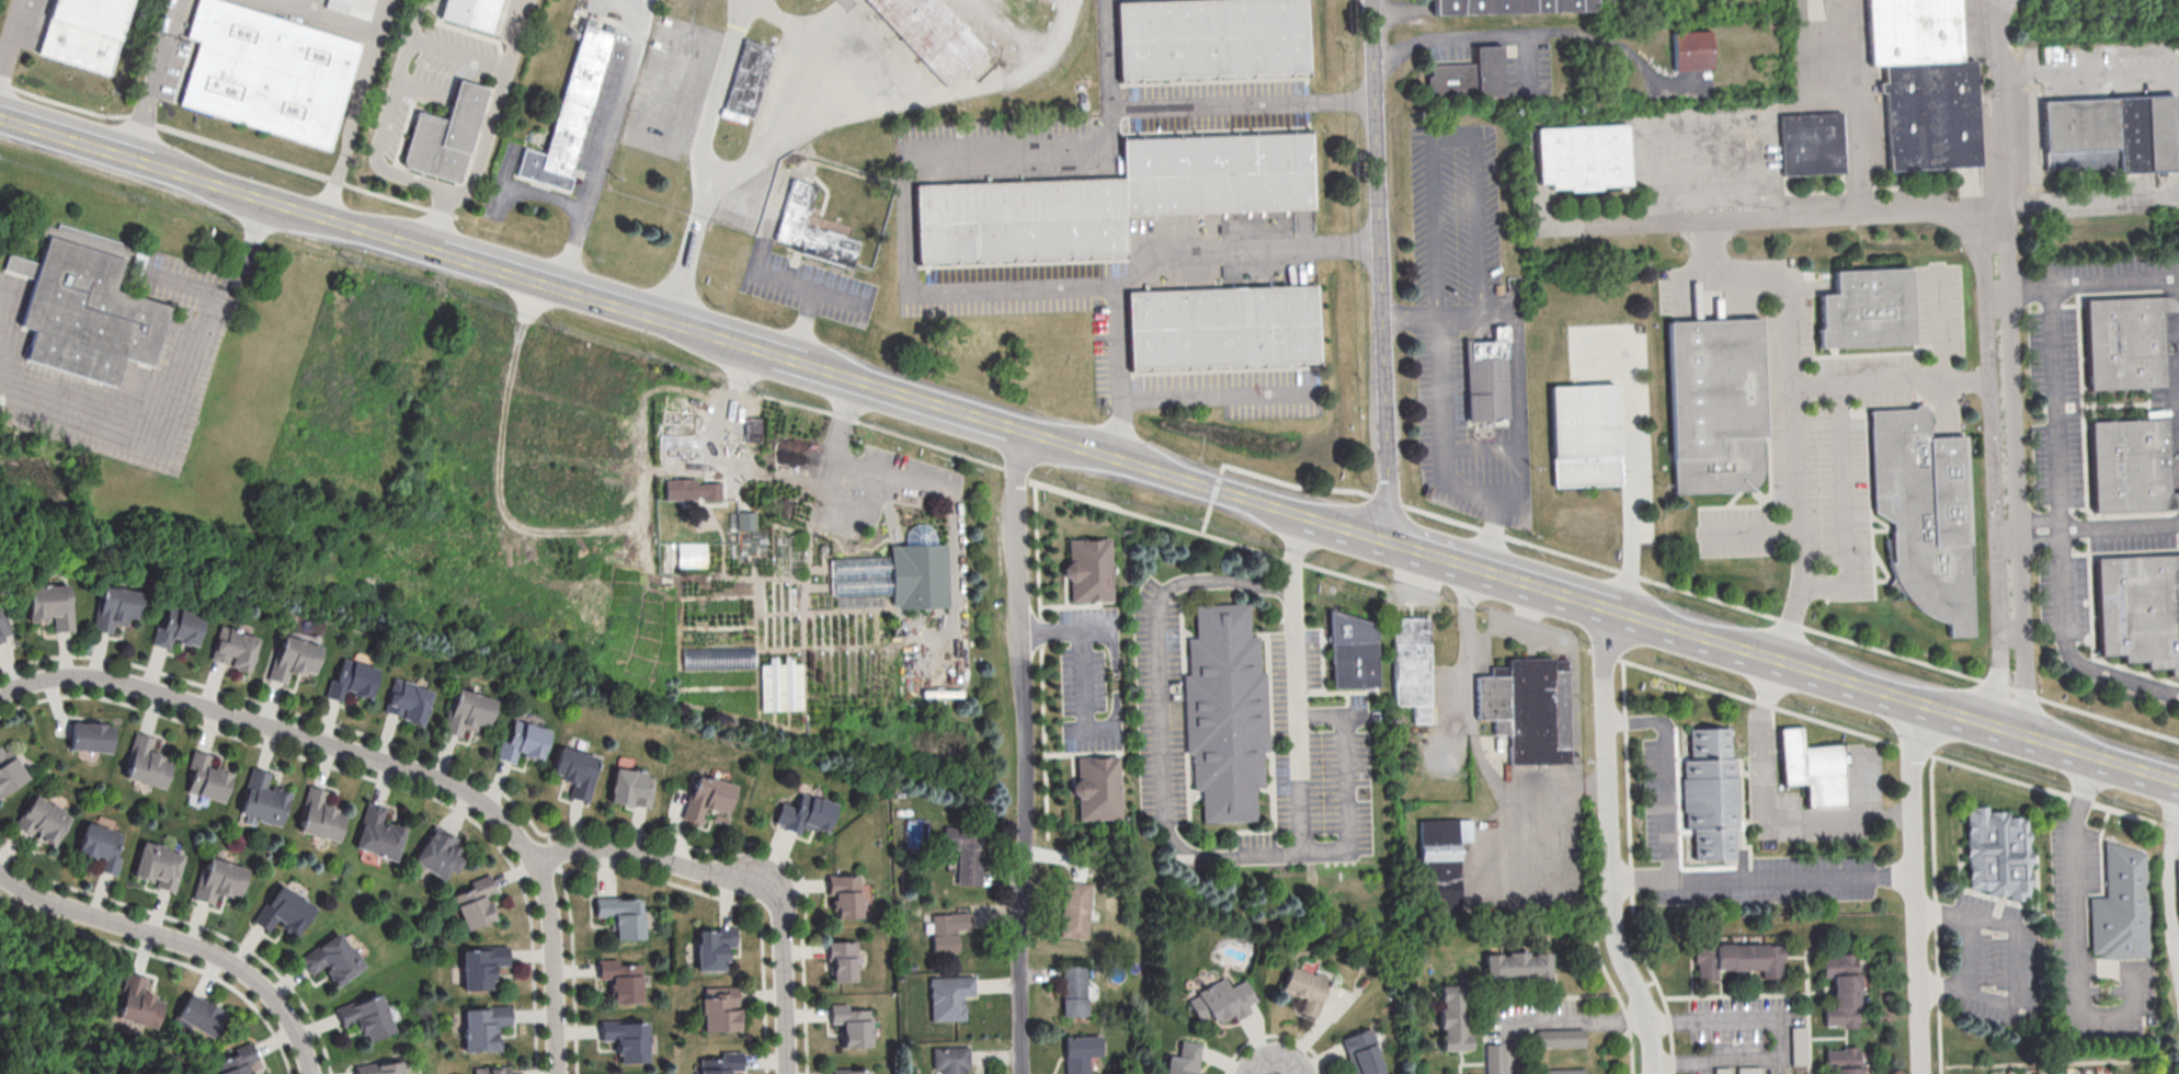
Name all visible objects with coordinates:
road: (309, 7)
building: (352, 7)
building: (1511, 10)
building: (470, 12)
road: (818, 14)
road: (321, 19)
road: (384, 19)
building: (84, 32)
building: (929, 33)
road: (12, 35)
road: (1548, 39)
building: (1214, 42)
building: (1692, 49)
road: (458, 53)
road: (729, 53)
road: (1530, 68)
building: (266, 71)
road: (2089, 71)
building: (748, 77)
road: (148, 78)
building: (1468, 78)
building: (1923, 83)
road: (420, 85)
road: (928, 100)
road: (495, 106)
road: (1187, 107)
road: (1859, 111)
building: (569, 113)
road: (386, 118)
road: (1560, 122)
road: (351, 128)
building: (445, 134)
building: (2109, 134)
road: (1454, 138)
road: (73, 142)
road: (601, 146)
building: (1813, 146)
road: (228, 148)
building: (1584, 159)
road: (1705, 169)
building: (1219, 175)
road: (232, 191)
road: (527, 192)
road: (2089, 205)
building: (1020, 220)
road: (435, 226)
building: (811, 232)
road: (379, 237)
road: (1379, 271)
road: (1765, 276)
road: (2114, 283)
road: (794, 284)
road: (187, 287)
road: (2022, 288)
road: (962, 290)
building: (84, 305)
road: (607, 307)
building: (1867, 309)
road: (202, 317)
building: (1222, 325)
road: (805, 328)
road: (1939, 330)
building: (2124, 342)
road: (785, 362)
road: (1998, 366)
road: (1118, 374)
building: (1486, 374)
road: (1515, 380)
road: (1896, 382)
road: (1210, 396)
road: (33, 399)
road: (906, 400)
building: (1714, 403)
road: (1441, 430)
building: (1584, 435)
road: (838, 450)
road: (1479, 452)
building: (2130, 467)
road: (1160, 475)
road: (1630, 477)
building: (691, 489)
road: (951, 504)
road: (1841, 510)
building: (1923, 513)
building: (746, 519)
road: (1449, 519)
road: (2034, 519)
road: (2120, 528)
road: (1346, 529)
road: (2060, 529)
road: (566, 530)
road: (1750, 530)
road: (2034, 542)
building: (692, 555)
building: (1089, 569)
building: (920, 574)
road: (1499, 575)
building: (860, 576)
building: (50, 605)
building: (115, 606)
building: (2137, 610)
building: (3, 627)
building: (178, 627)
road: (1068, 629)
road: (1520, 635)
building: (235, 648)
building: (1351, 652)
building: (718, 656)
building: (293, 659)
building: (1412, 666)
building: (352, 681)
road: (1297, 683)
building: (780, 684)
road: (1084, 695)
road: (1894, 697)
building: (407, 701)
building: (1528, 709)
building: (1225, 711)
building: (466, 712)
road: (307, 716)
road: (1472, 733)
building: (90, 736)
road: (1887, 741)
building: (522, 742)
road: (277, 749)
road: (1024, 754)
road: (386, 761)
building: (146, 762)
building: (1812, 768)
building: (9, 770)
building: (574, 772)
road: (1667, 772)
building: (206, 777)
building: (1097, 787)
building: (630, 788)
building: (1710, 791)
building: (262, 798)
building: (706, 798)
road: (1762, 811)
building: (803, 814)
building: (319, 816)
building: (42, 820)
road: (1168, 827)
road: (2176, 833)
building: (377, 834)
road: (1608, 844)
building: (101, 846)
building: (438, 853)
building: (967, 853)
building: (1997, 853)
building: (157, 865)
building: (1438, 866)
road: (1630, 870)
road: (1761, 879)
building: (218, 880)
road: (741, 882)
building: (2178, 887)
road: (1914, 888)
road: (2167, 889)
building: (844, 896)
building: (476, 902)
building: (2119, 906)
building: (283, 911)
building: (1074, 911)
building: (620, 916)
building: (948, 929)
road: (2077, 935)
road: (181, 944)
building: (714, 948)
road: (1961, 955)
building: (332, 959)
building: (1738, 959)
building: (841, 960)
building: (1517, 966)
building: (480, 967)
road: (2017, 967)
building: (621, 979)
building: (1305, 987)
building: (1841, 989)
building: (1073, 991)
building: (948, 997)
building: (136, 1001)
building: (1221, 1001)
building: (719, 1008)
building: (198, 1015)
building: (365, 1015)
building: (1452, 1018)
road: (1554, 1021)
building: (483, 1026)
building: (851, 1027)
building: (1560, 1037)
road: (1781, 1038)
building: (625, 1040)
road: (1250, 1041)
building: (1799, 1046)
road: (1311, 1051)
building: (1079, 1053)
building: (1362, 1053)
building: (1494, 1058)
building: (950, 1060)
road: (1631, 1060)
building: (1844, 1060)
building: (237, 1061)
building: (721, 1063)
building: (379, 1067)
building: (492, 1070)
building: (1722, 1070)
building: (1748, 1070)
building: (1561, 1071)
building: (848, 1072)
building: (2174, 1073)

